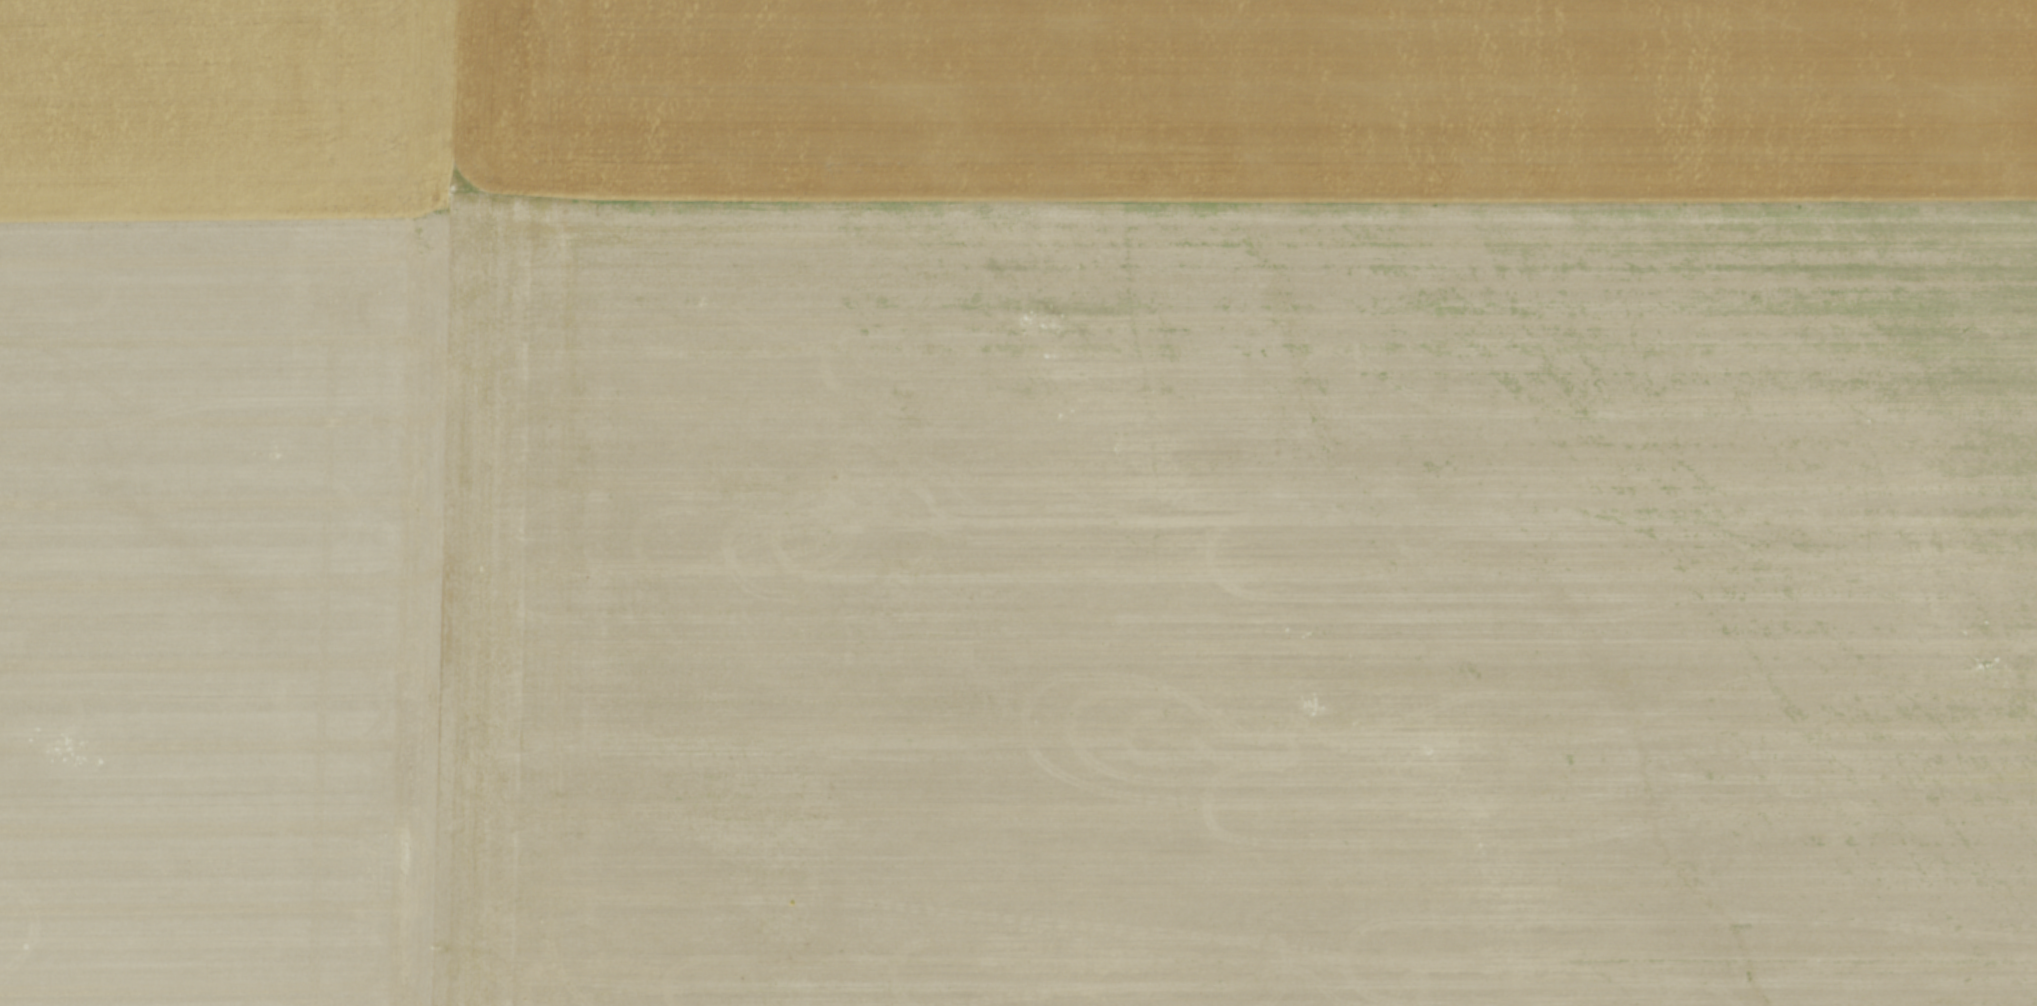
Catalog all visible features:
road: (449, 503)
crop: (1018, 503)

